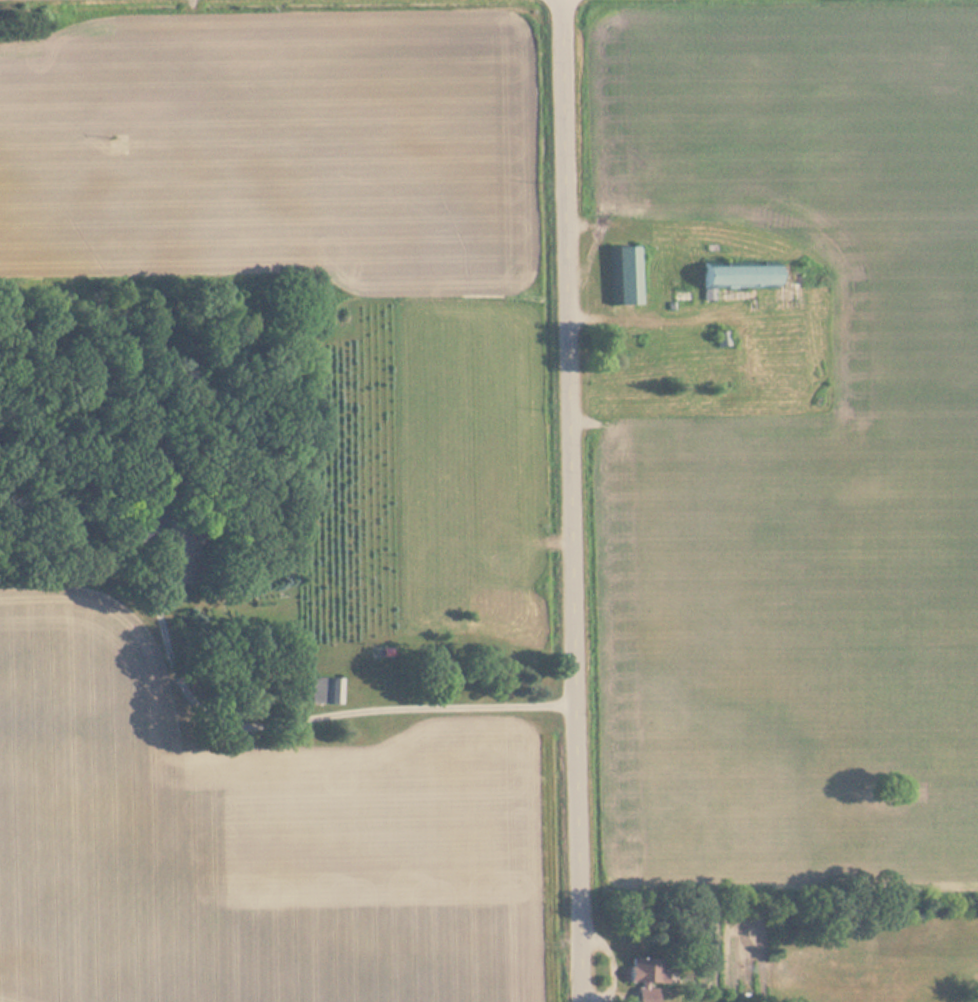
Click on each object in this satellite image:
building: (625, 275)
building: (795, 285)
building: (751, 287)
building: (631, 361)
road: (570, 501)
building: (327, 691)
road: (318, 717)
park: (879, 952)
building: (650, 970)

